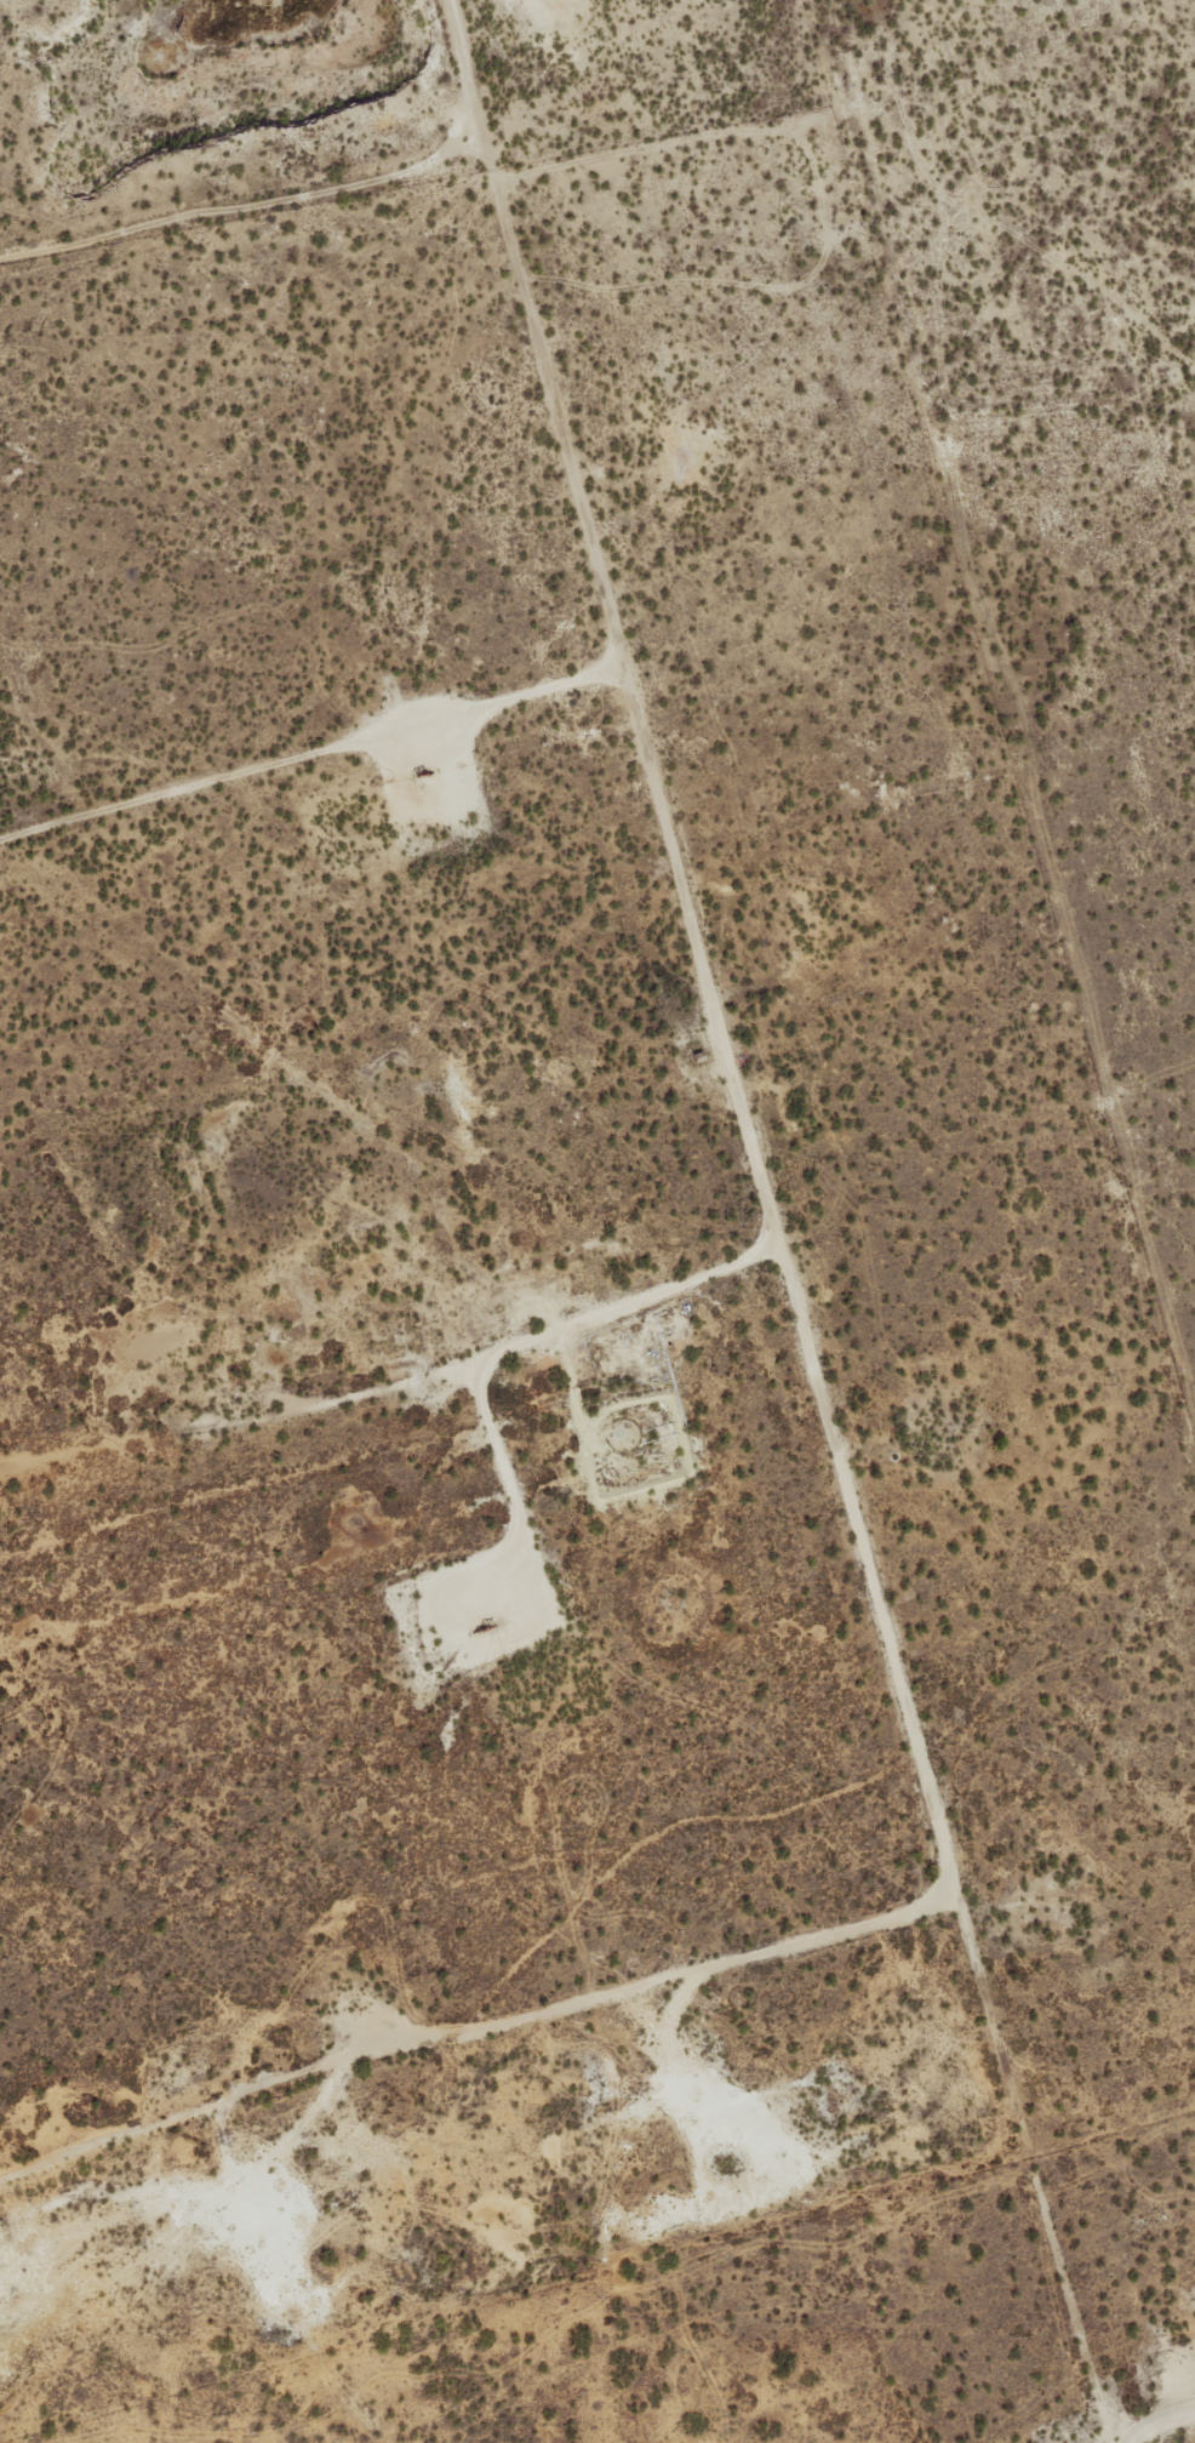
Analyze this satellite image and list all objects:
road: (910, 325)
road: (1176, 479)
road: (311, 752)
road: (781, 1222)
road: (476, 2030)
road: (1161, 2431)

